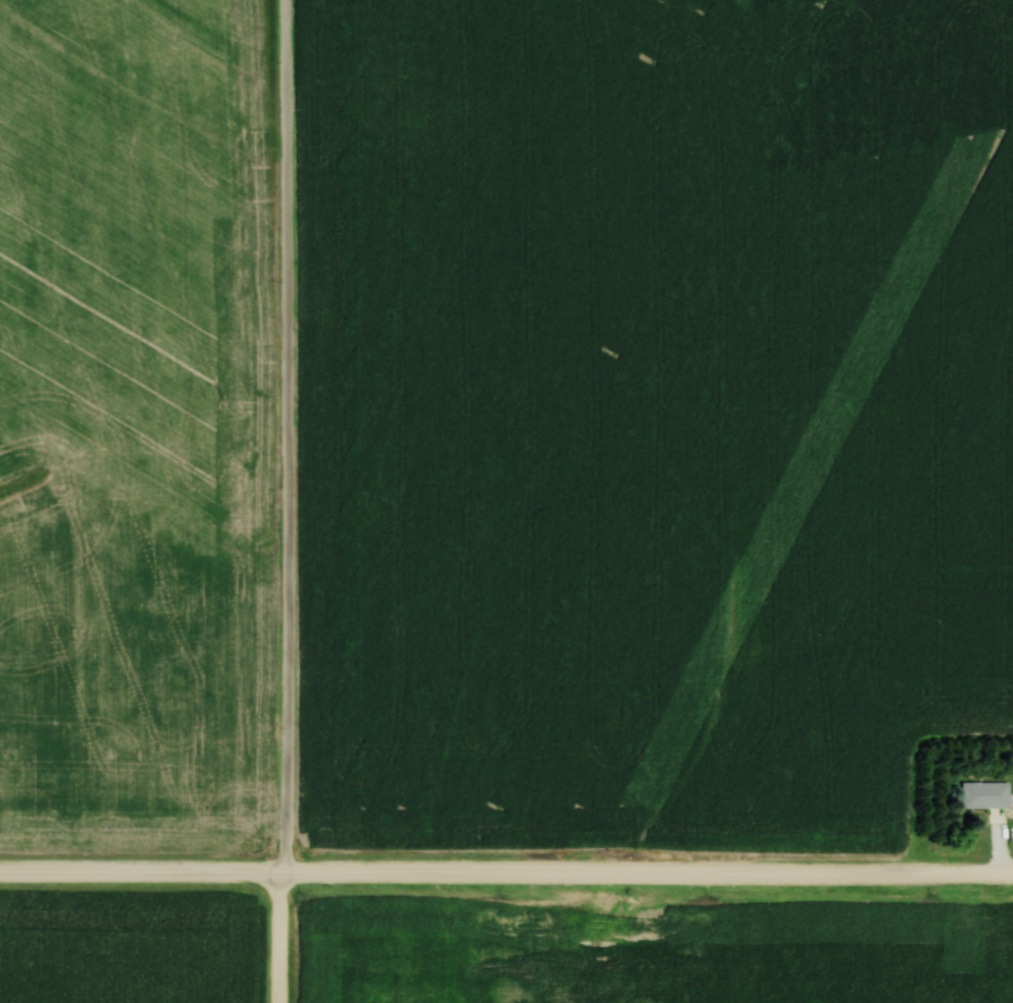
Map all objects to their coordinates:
road: (287, 438)
building: (986, 794)
road: (506, 876)
road: (284, 939)

